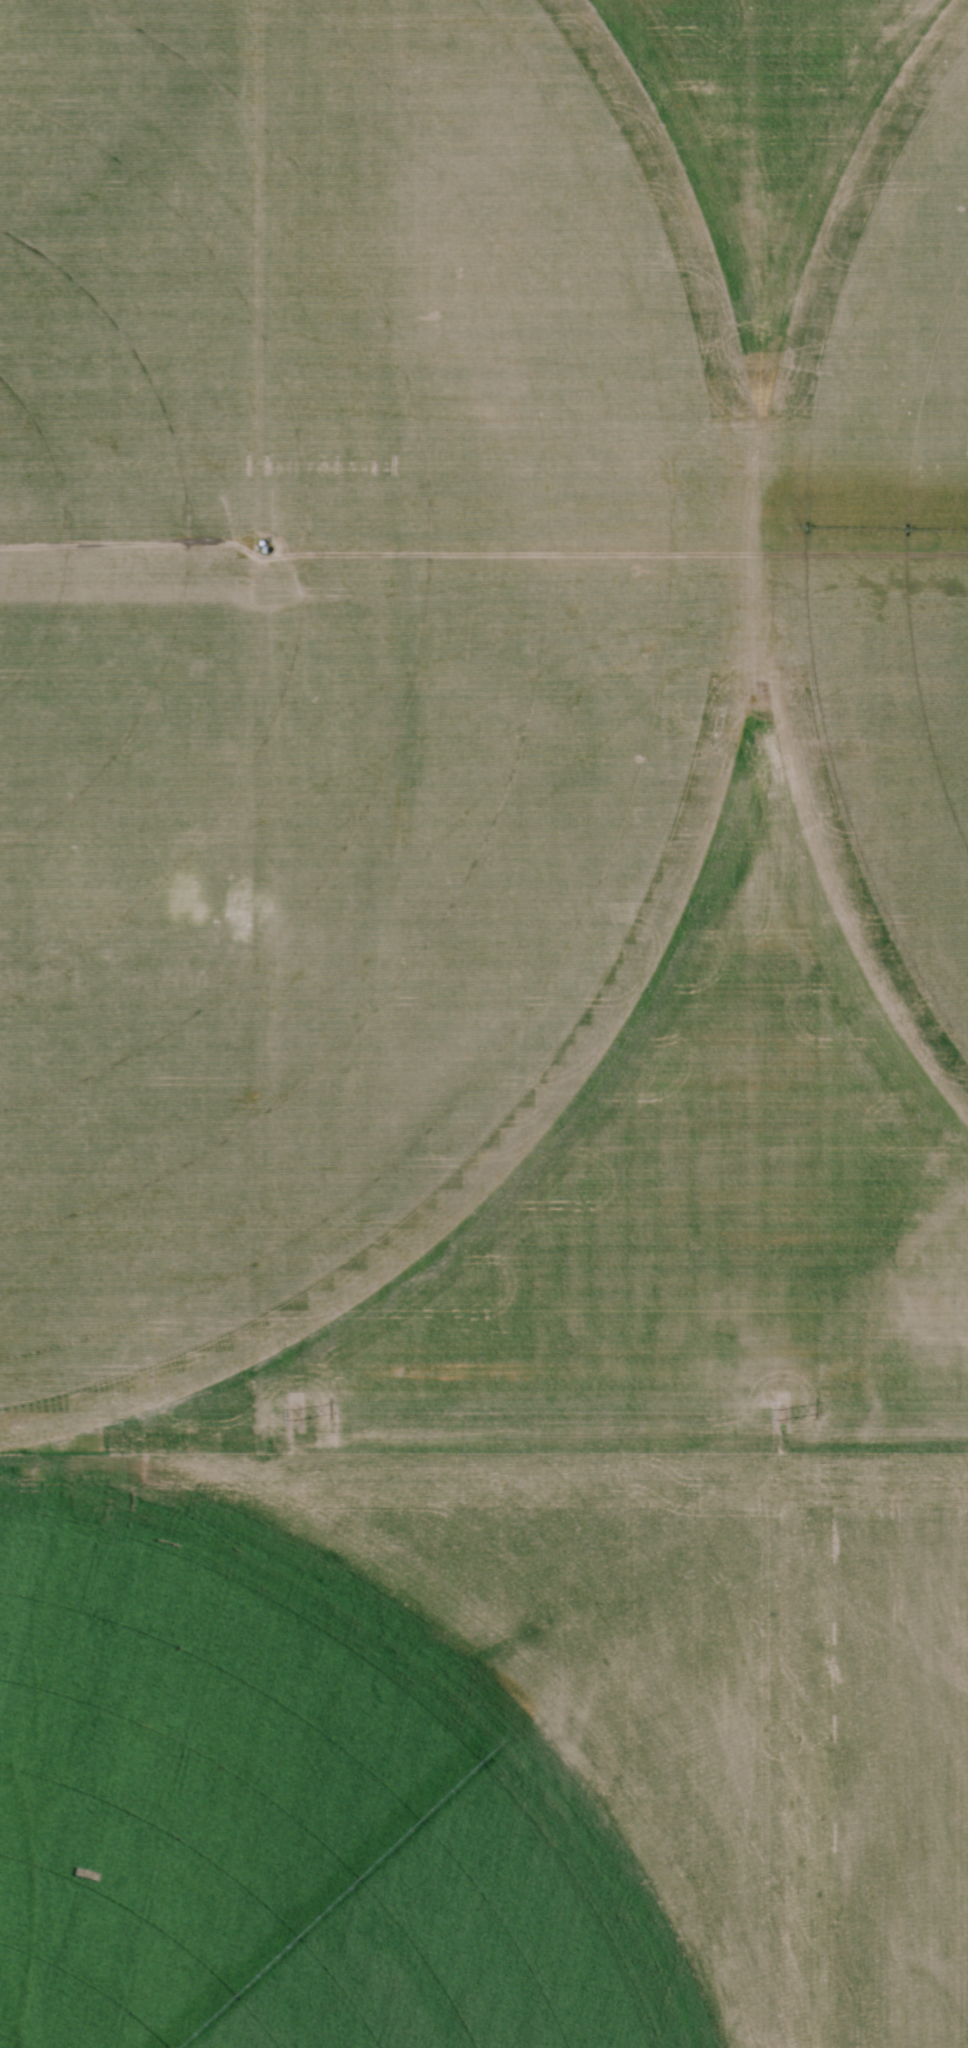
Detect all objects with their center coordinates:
power tower: (303, 1415)
power tower: (786, 1417)

